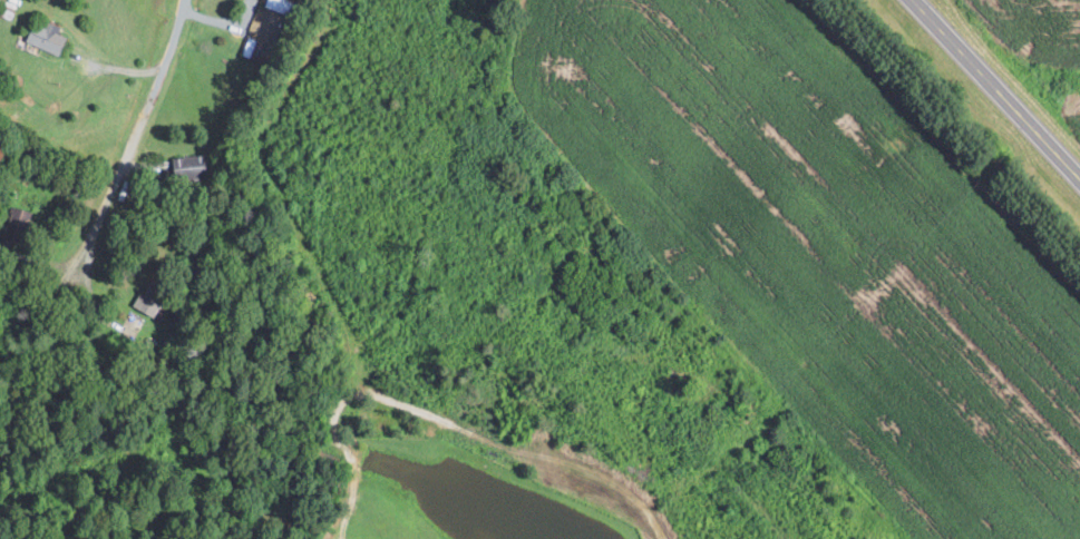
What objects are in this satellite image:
building: (283, 6)
building: (50, 37)
road: (995, 89)
road: (142, 121)
building: (149, 297)
road: (32, 322)

